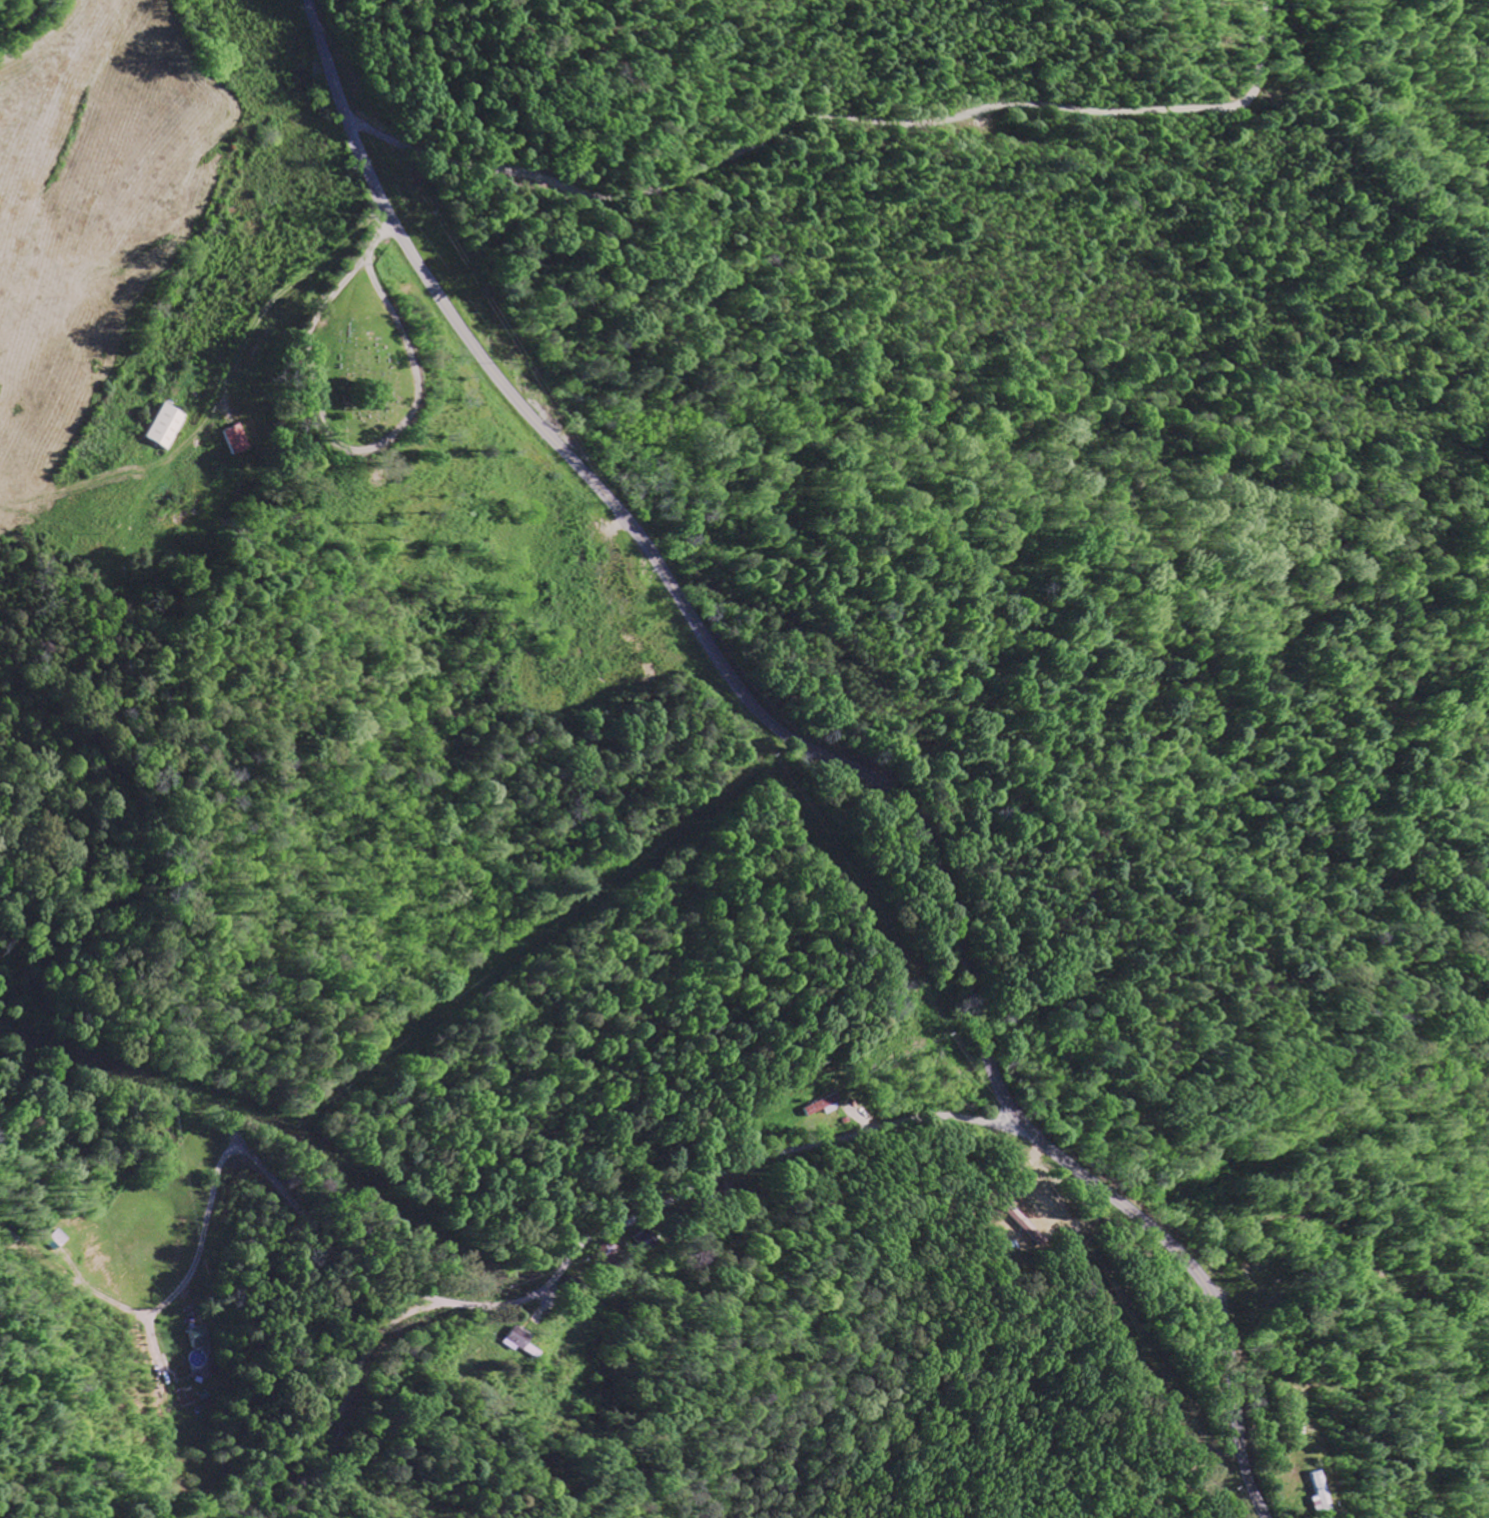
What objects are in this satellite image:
road: (1255, 54)
road: (779, 133)
road: (377, 237)
park: (347, 366)
building: (161, 429)
road: (334, 440)
building: (232, 441)
road: (819, 755)
road: (62, 1063)
building: (819, 1107)
road: (1273, 1148)
road: (733, 1166)
road: (330, 1246)
building: (193, 1337)
building: (511, 1341)
building: (1309, 1503)

